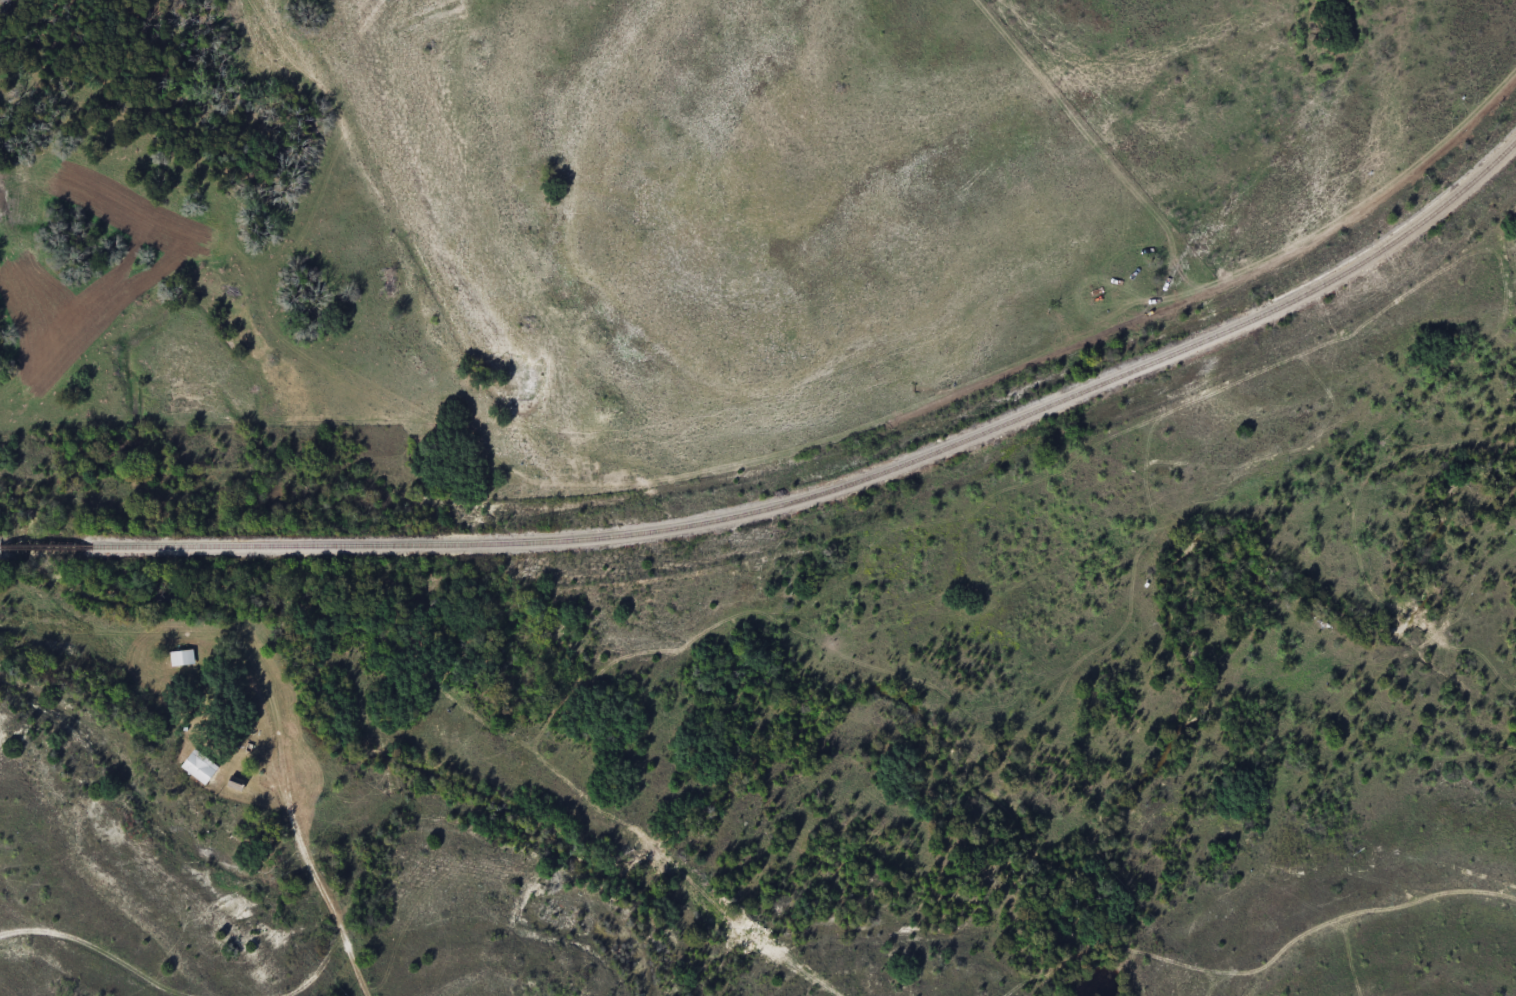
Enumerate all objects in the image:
railway: (802, 501)
building: (179, 657)
building: (195, 766)
road: (355, 873)

